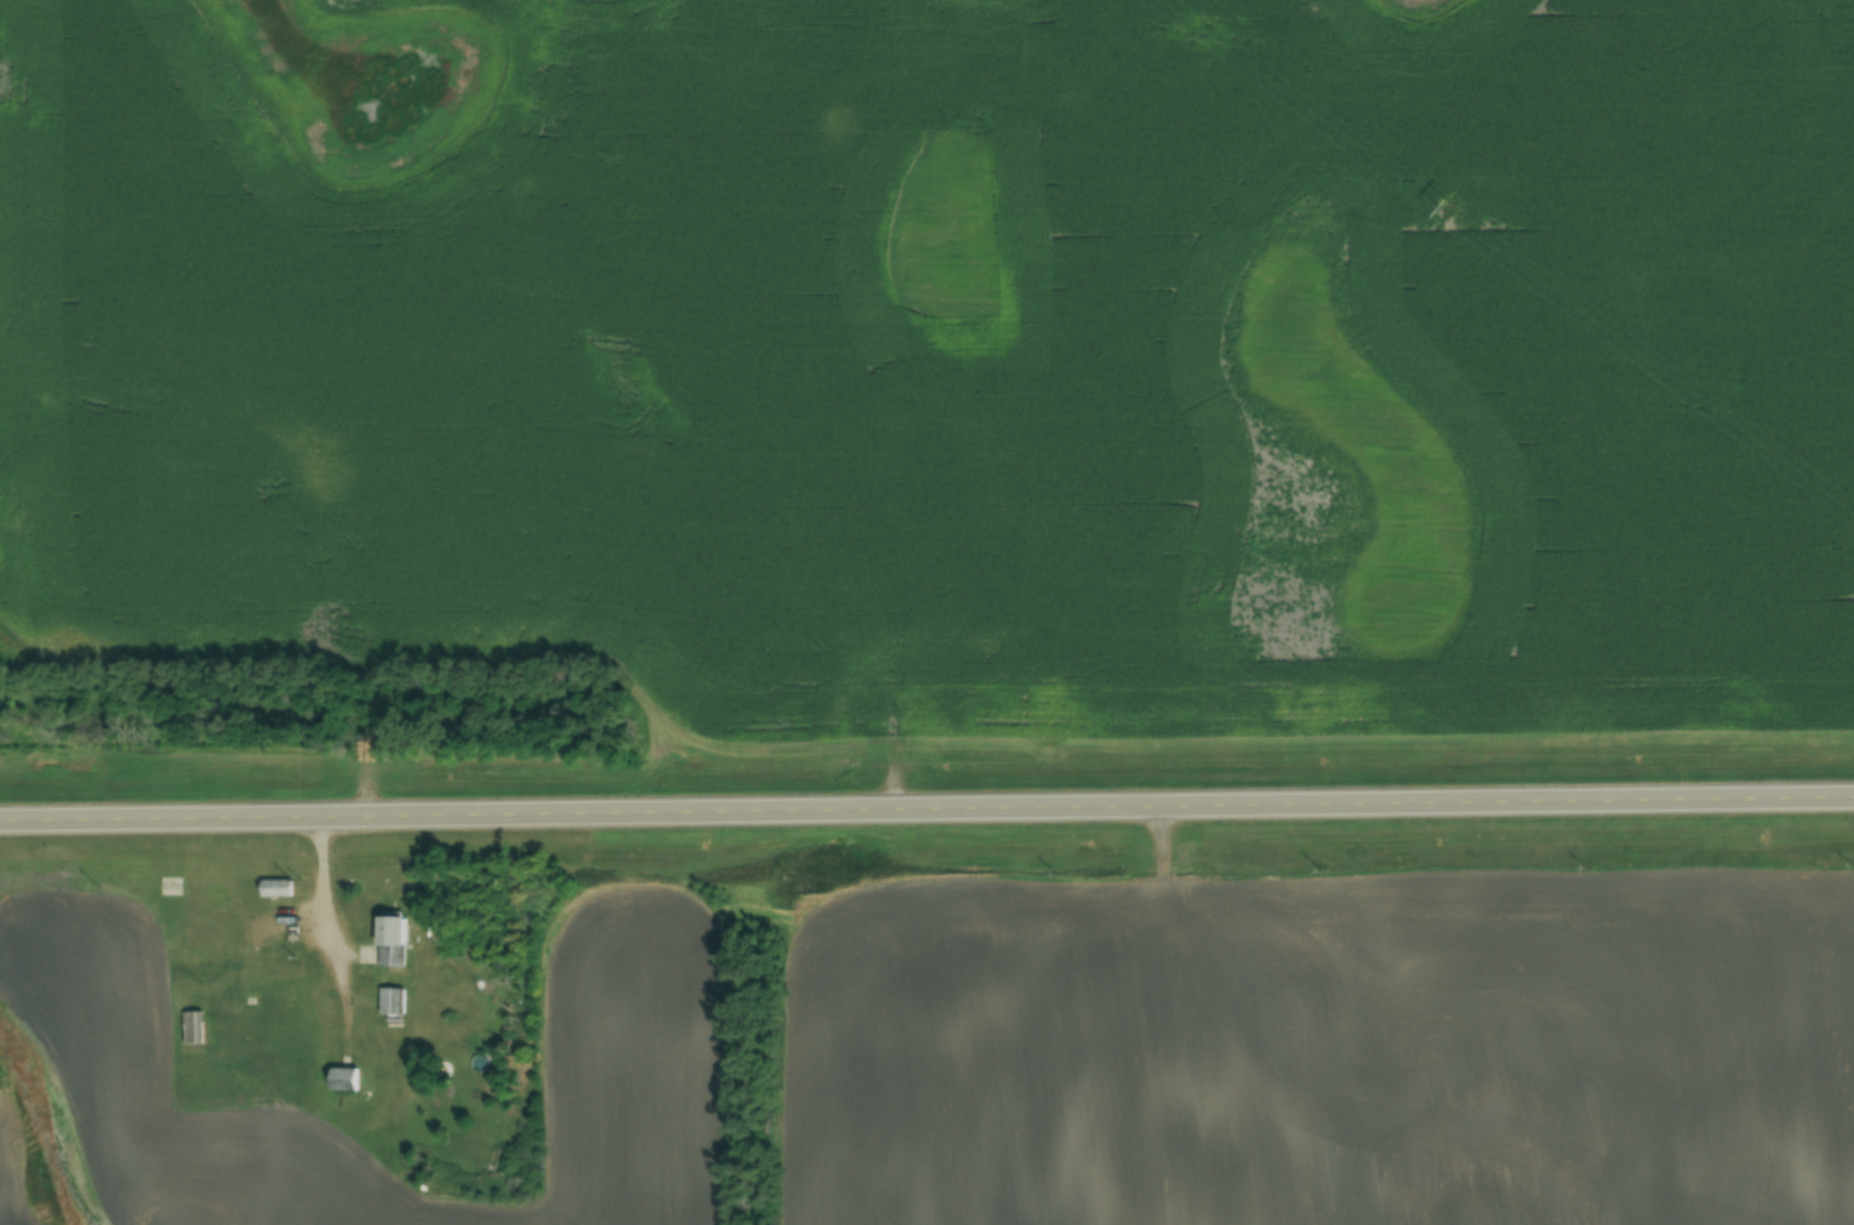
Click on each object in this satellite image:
power tower: (1447, 207)
road: (926, 813)
building: (218, 894)
building: (389, 941)
building: (204, 967)
building: (390, 1000)
building: (193, 1026)
building: (342, 1078)

